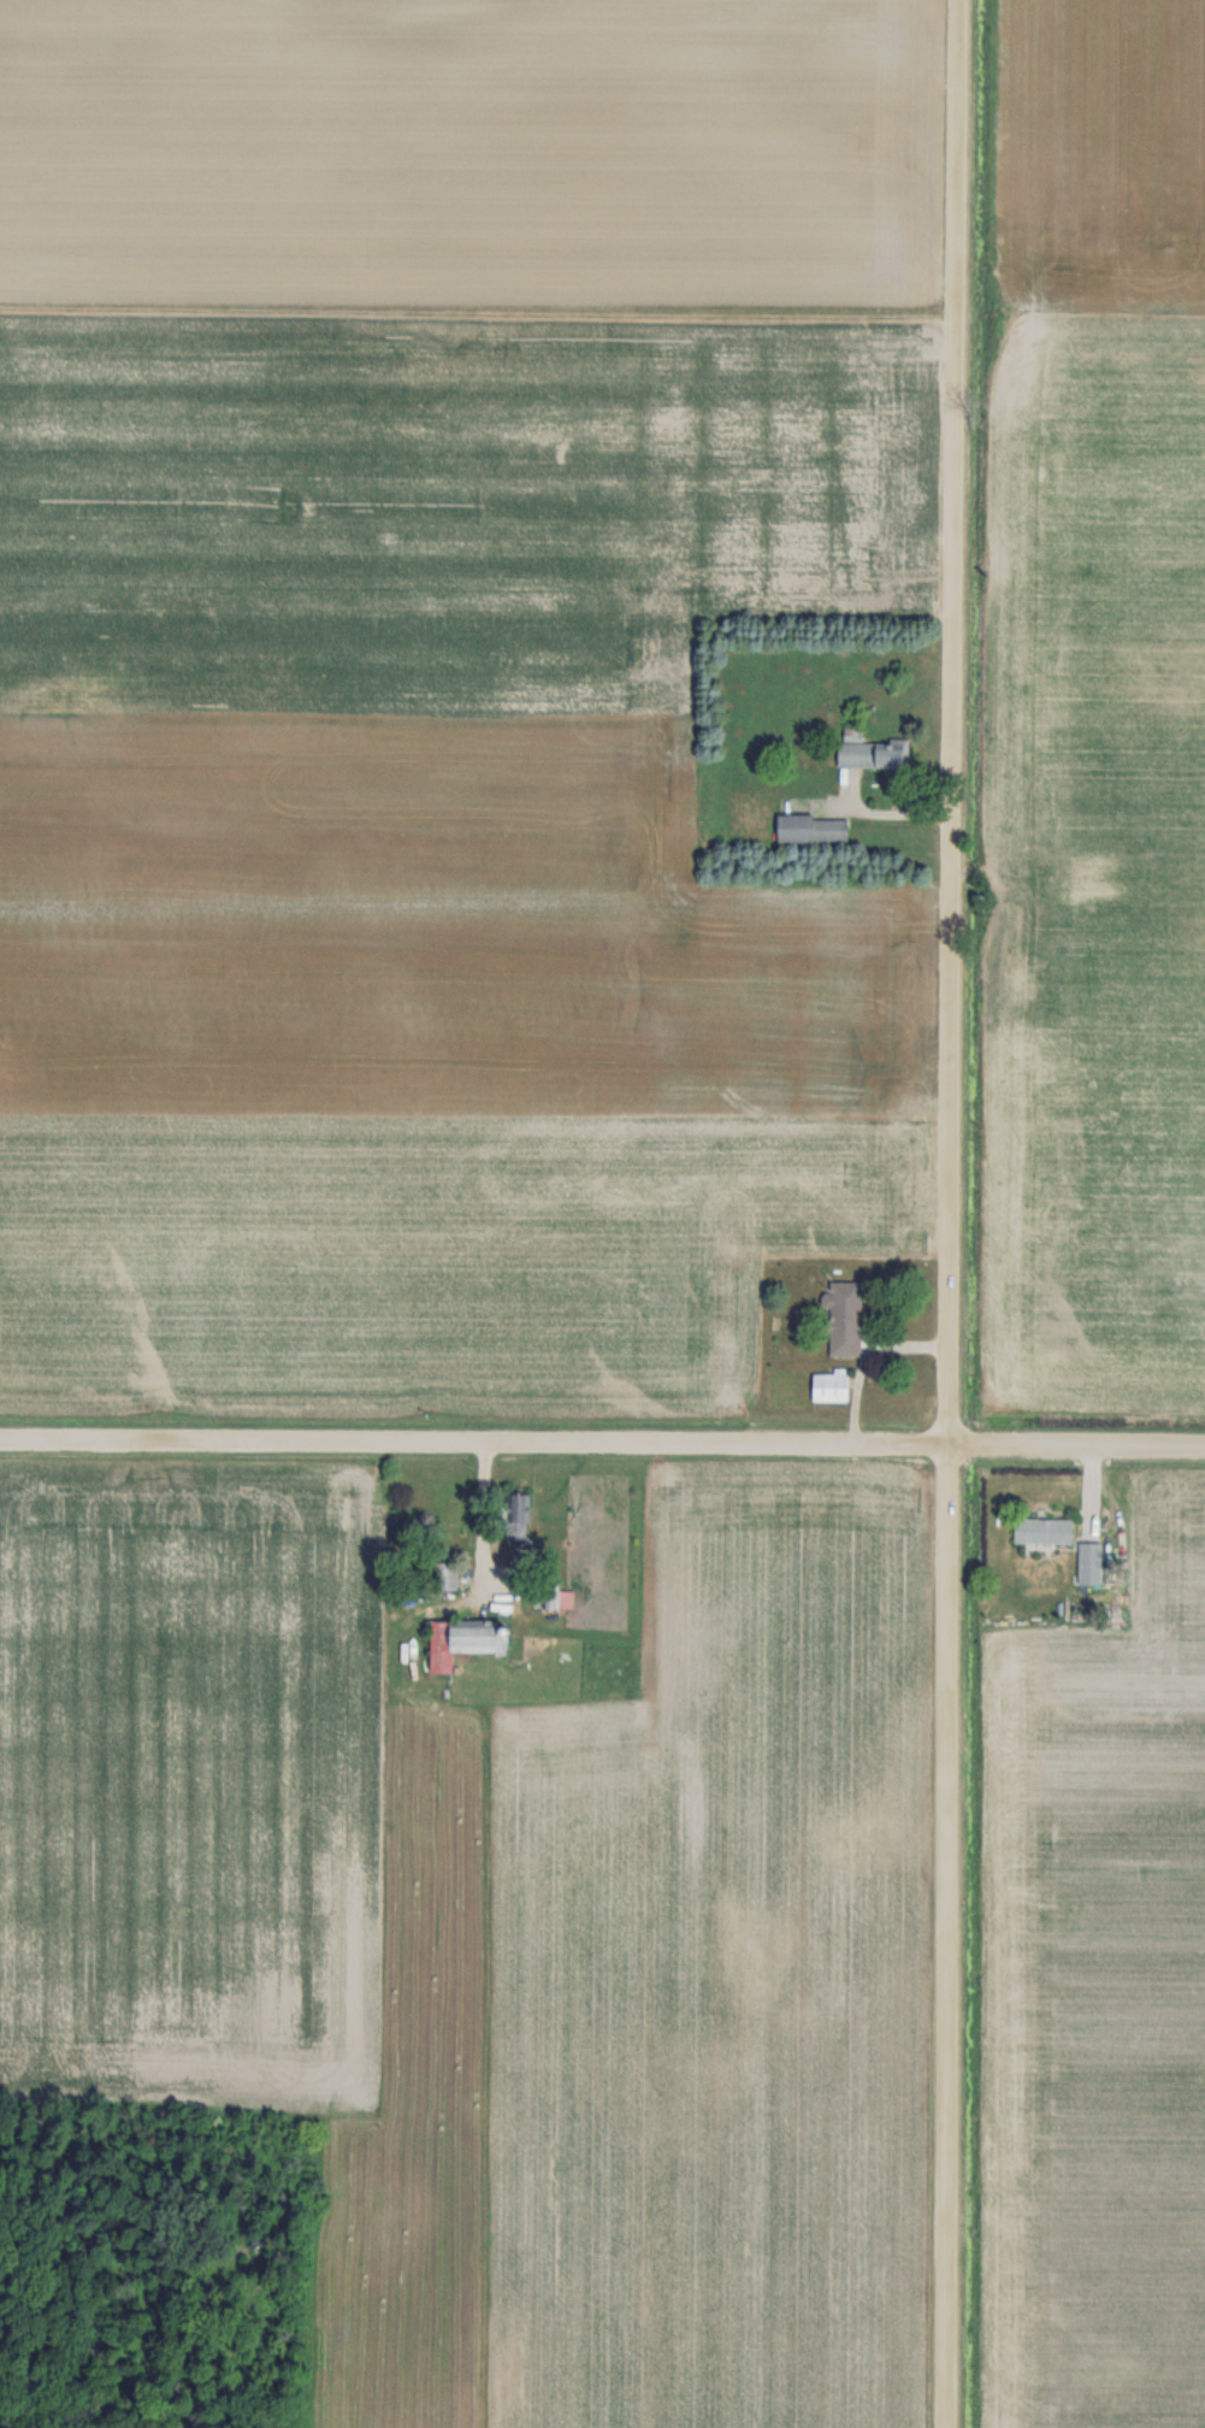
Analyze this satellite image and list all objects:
building: (872, 753)
building: (810, 829)
road: (953, 1213)
building: (841, 1318)
building: (828, 1384)
road: (475, 1438)
road: (1079, 1446)
road: (483, 1510)
building: (518, 1515)
building: (1041, 1530)
building: (445, 1575)
building: (551, 1596)
building: (463, 1640)

